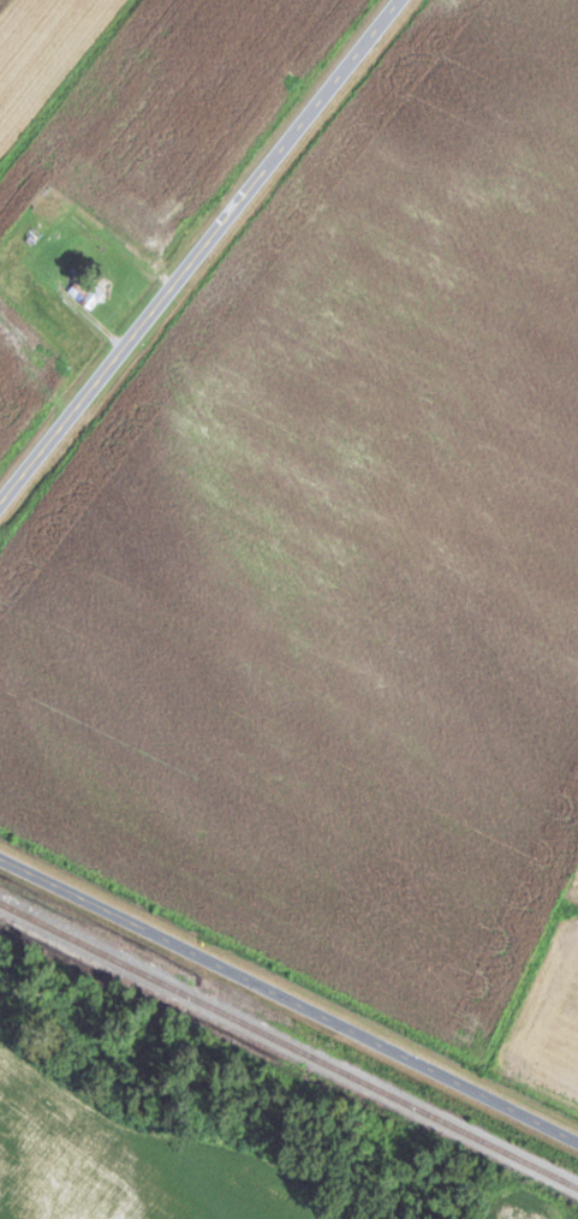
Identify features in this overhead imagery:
building: (145, 221)
road: (202, 250)
building: (84, 290)
road: (291, 997)
railway: (288, 1043)

